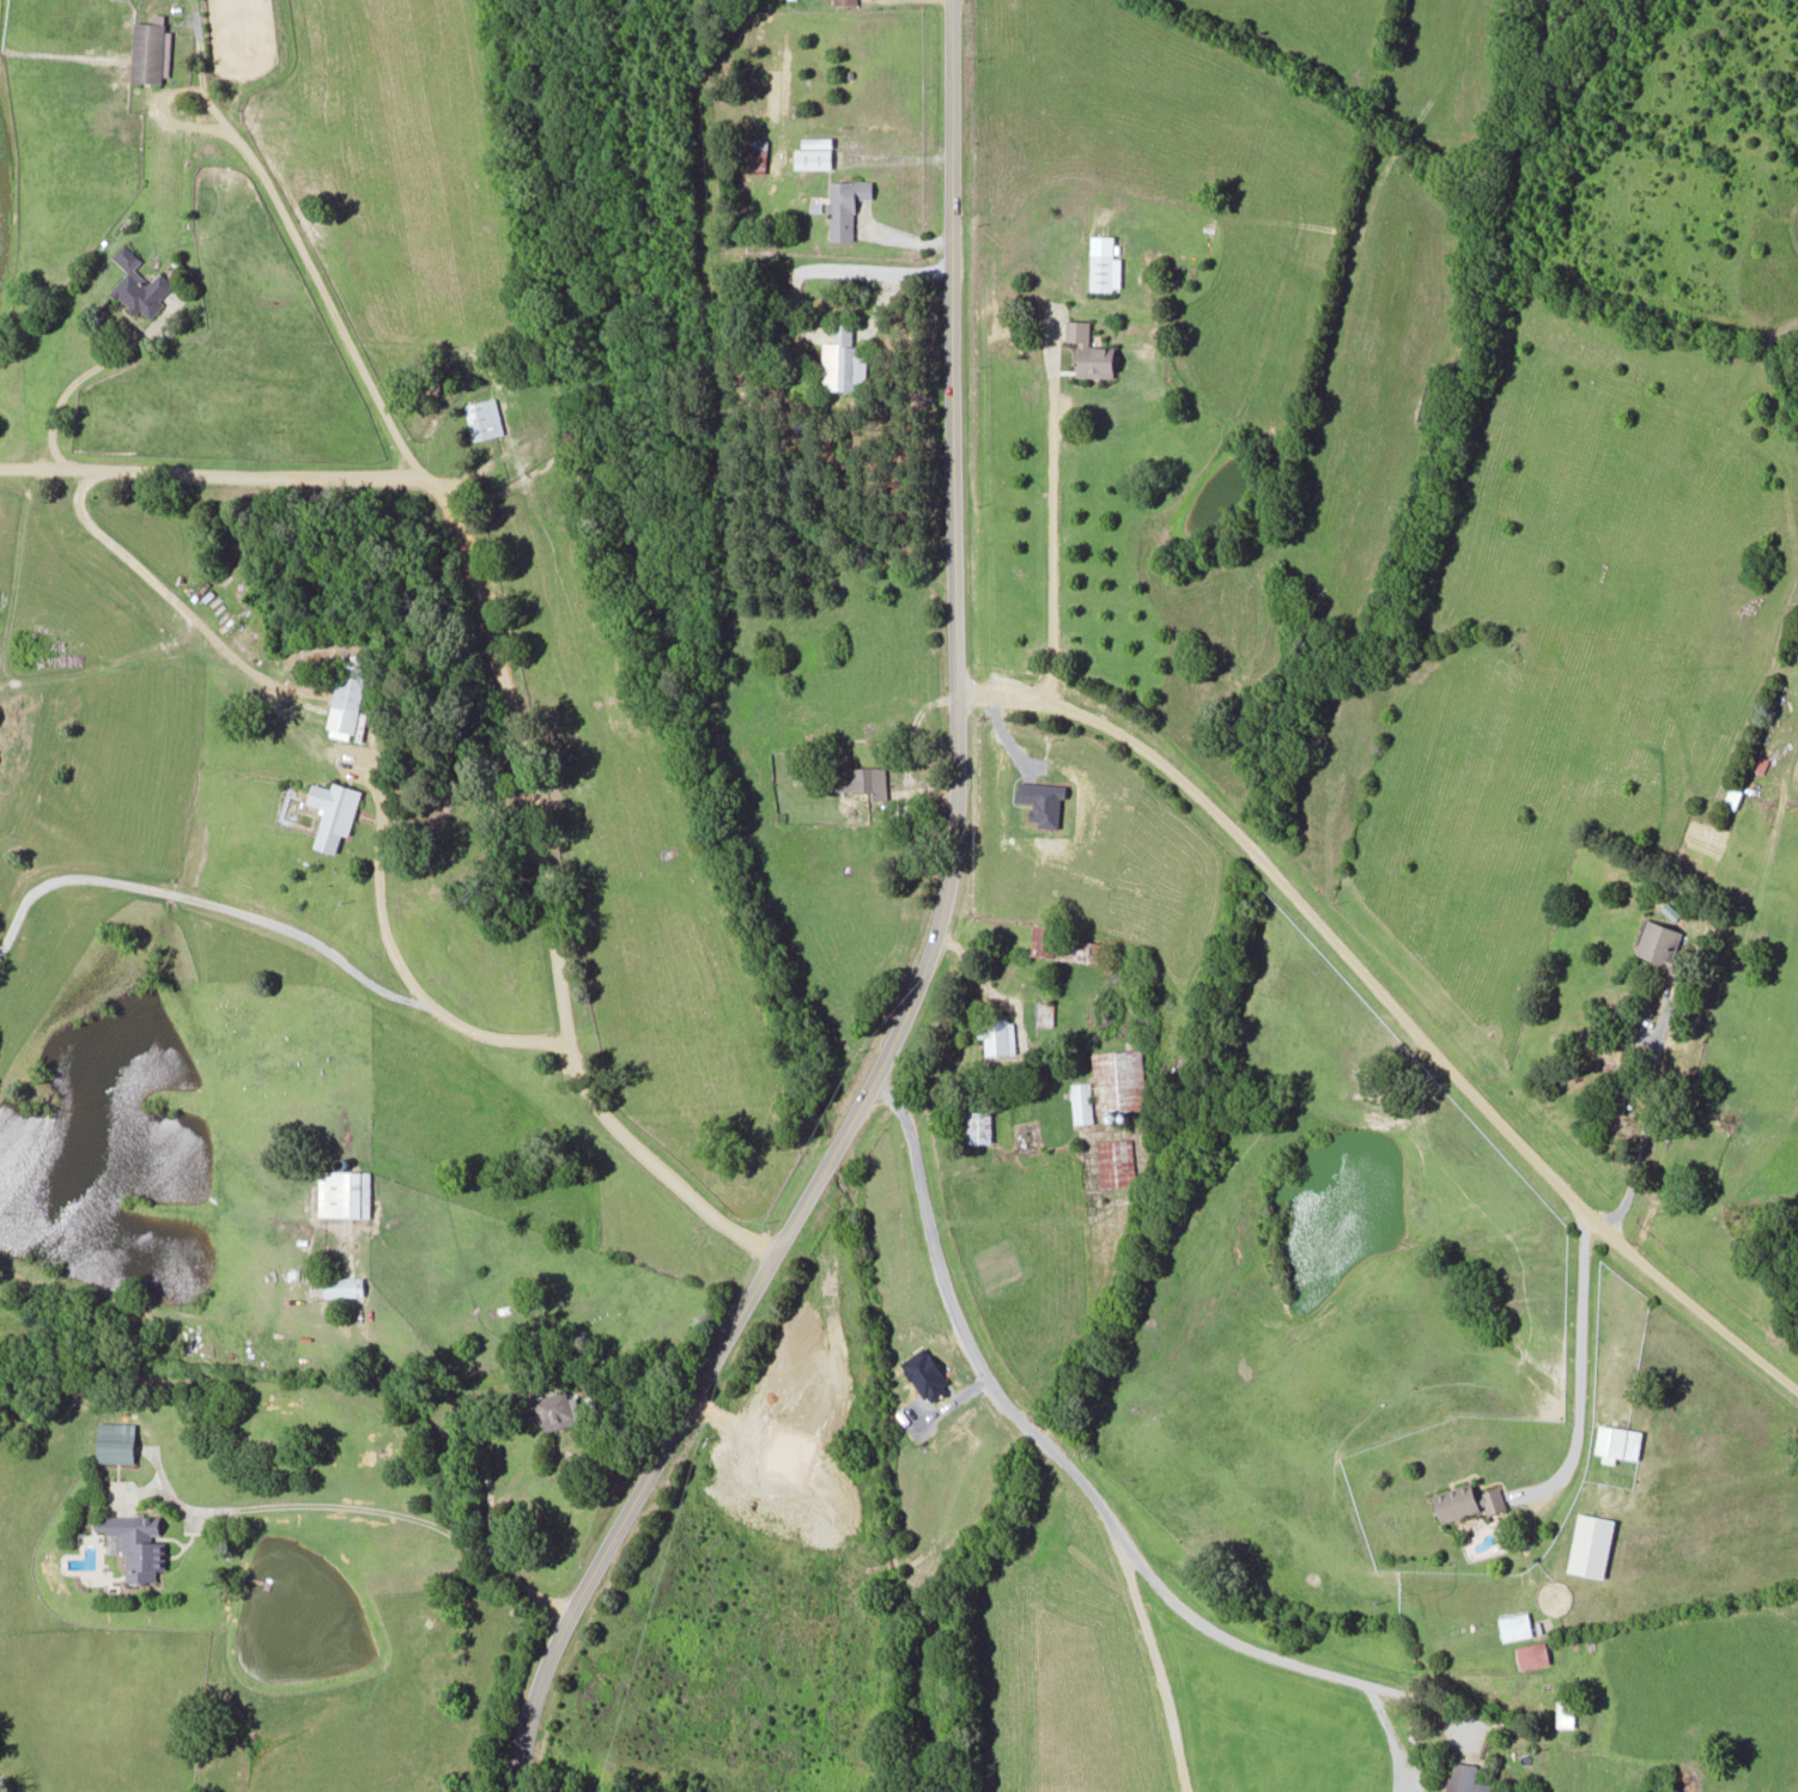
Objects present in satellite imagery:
building: (843, 1)
building: (147, 50)
building: (812, 152)
building: (757, 154)
building: (844, 205)
road: (281, 217)
road: (909, 237)
building: (1100, 271)
building: (136, 284)
building: (1089, 350)
building: (840, 360)
road: (71, 381)
building: (481, 417)
road: (1049, 511)
road: (508, 691)
building: (346, 699)
road: (338, 752)
building: (868, 778)
building: (1733, 795)
building: (332, 813)
building: (1658, 943)
road: (928, 944)
building: (1063, 944)
road: (1389, 1008)
building: (1044, 1012)
building: (996, 1034)
building: (1118, 1082)
building: (1080, 1101)
building: (977, 1125)
building: (1025, 1135)
building: (1114, 1160)
building: (342, 1192)
building: (341, 1284)
road: (1577, 1369)
building: (558, 1409)
building: (115, 1440)
building: (1617, 1442)
road: (476, 1456)
road: (1083, 1484)
building: (1465, 1500)
road: (391, 1513)
building: (1591, 1544)
building: (136, 1547)
building: (1514, 1626)
building: (1531, 1654)
road: (1156, 1660)
building: (1565, 1712)
building: (1465, 1778)

